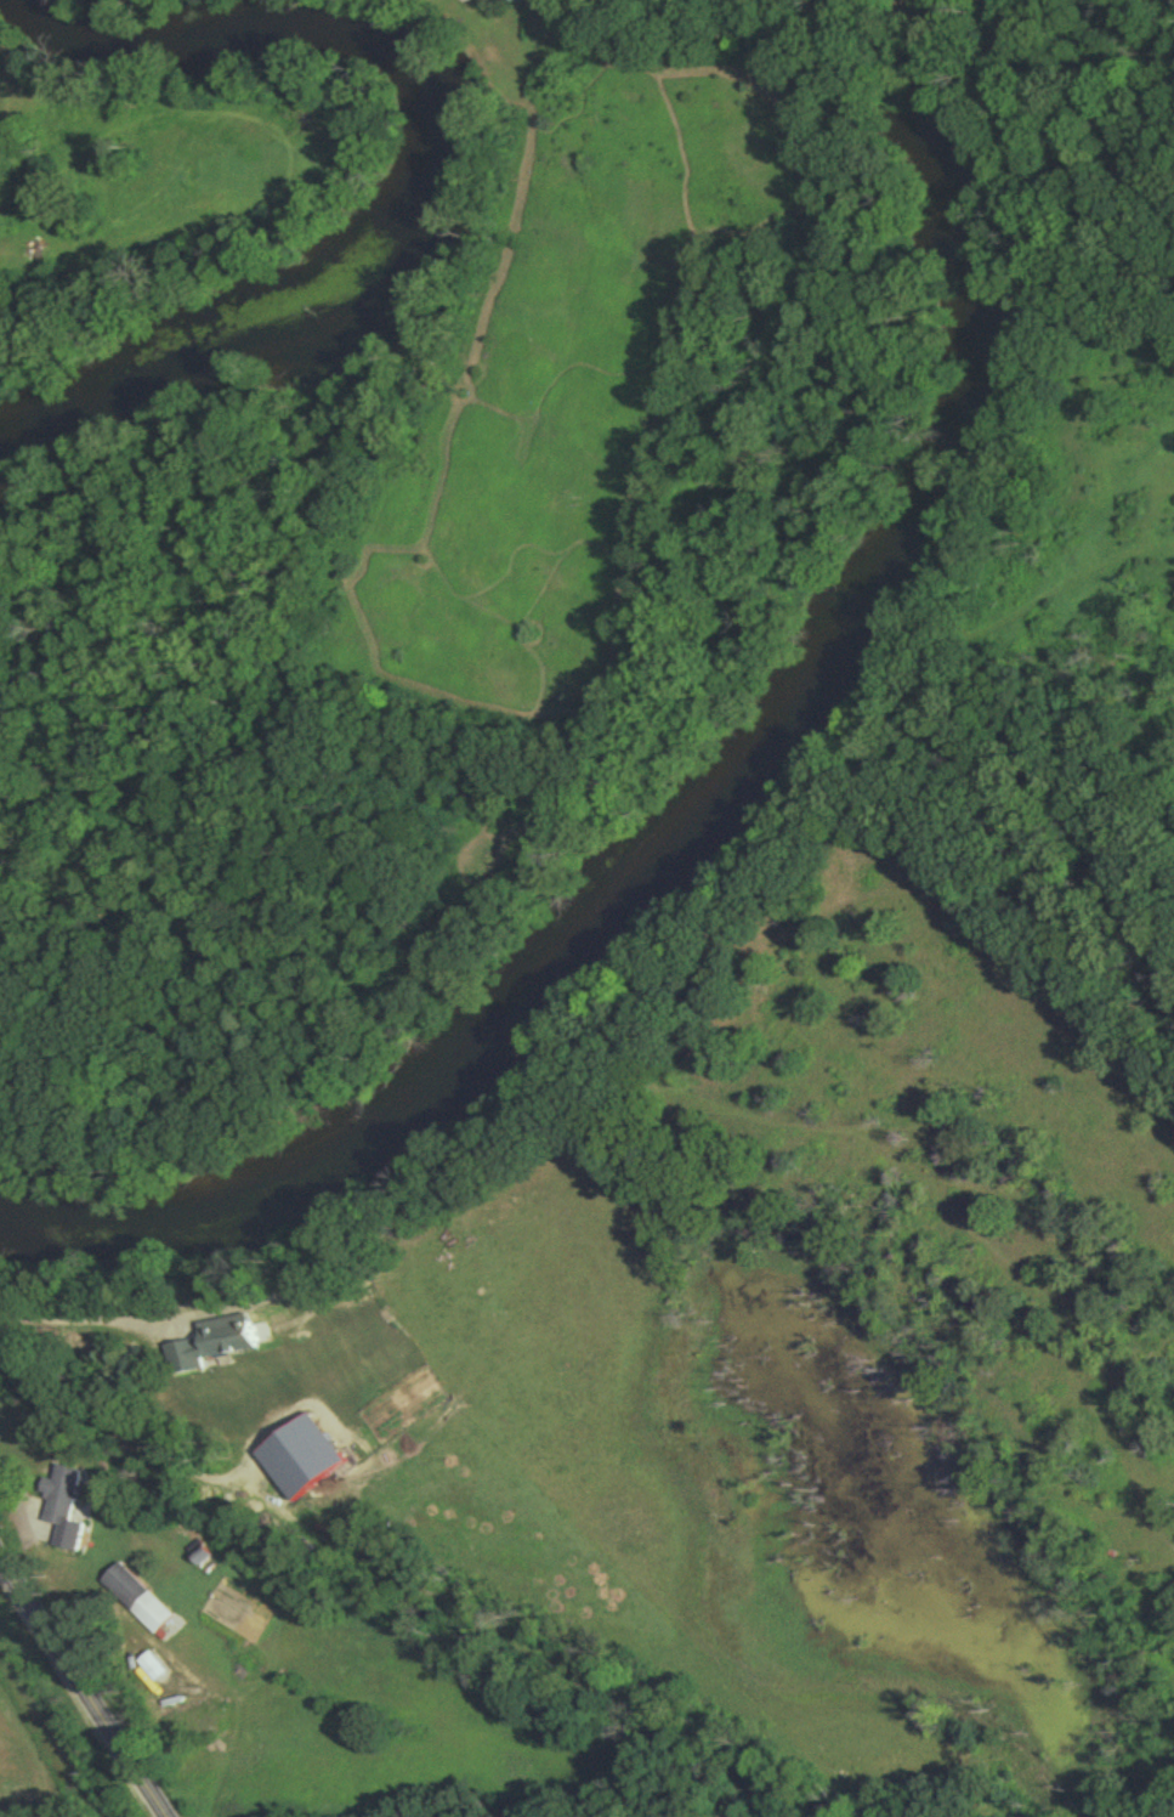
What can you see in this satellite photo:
river: (421, 170)
river: (718, 802)
road: (86, 1315)
road: (15, 1487)
building: (61, 1512)
building: (135, 1602)
road: (83, 1691)

